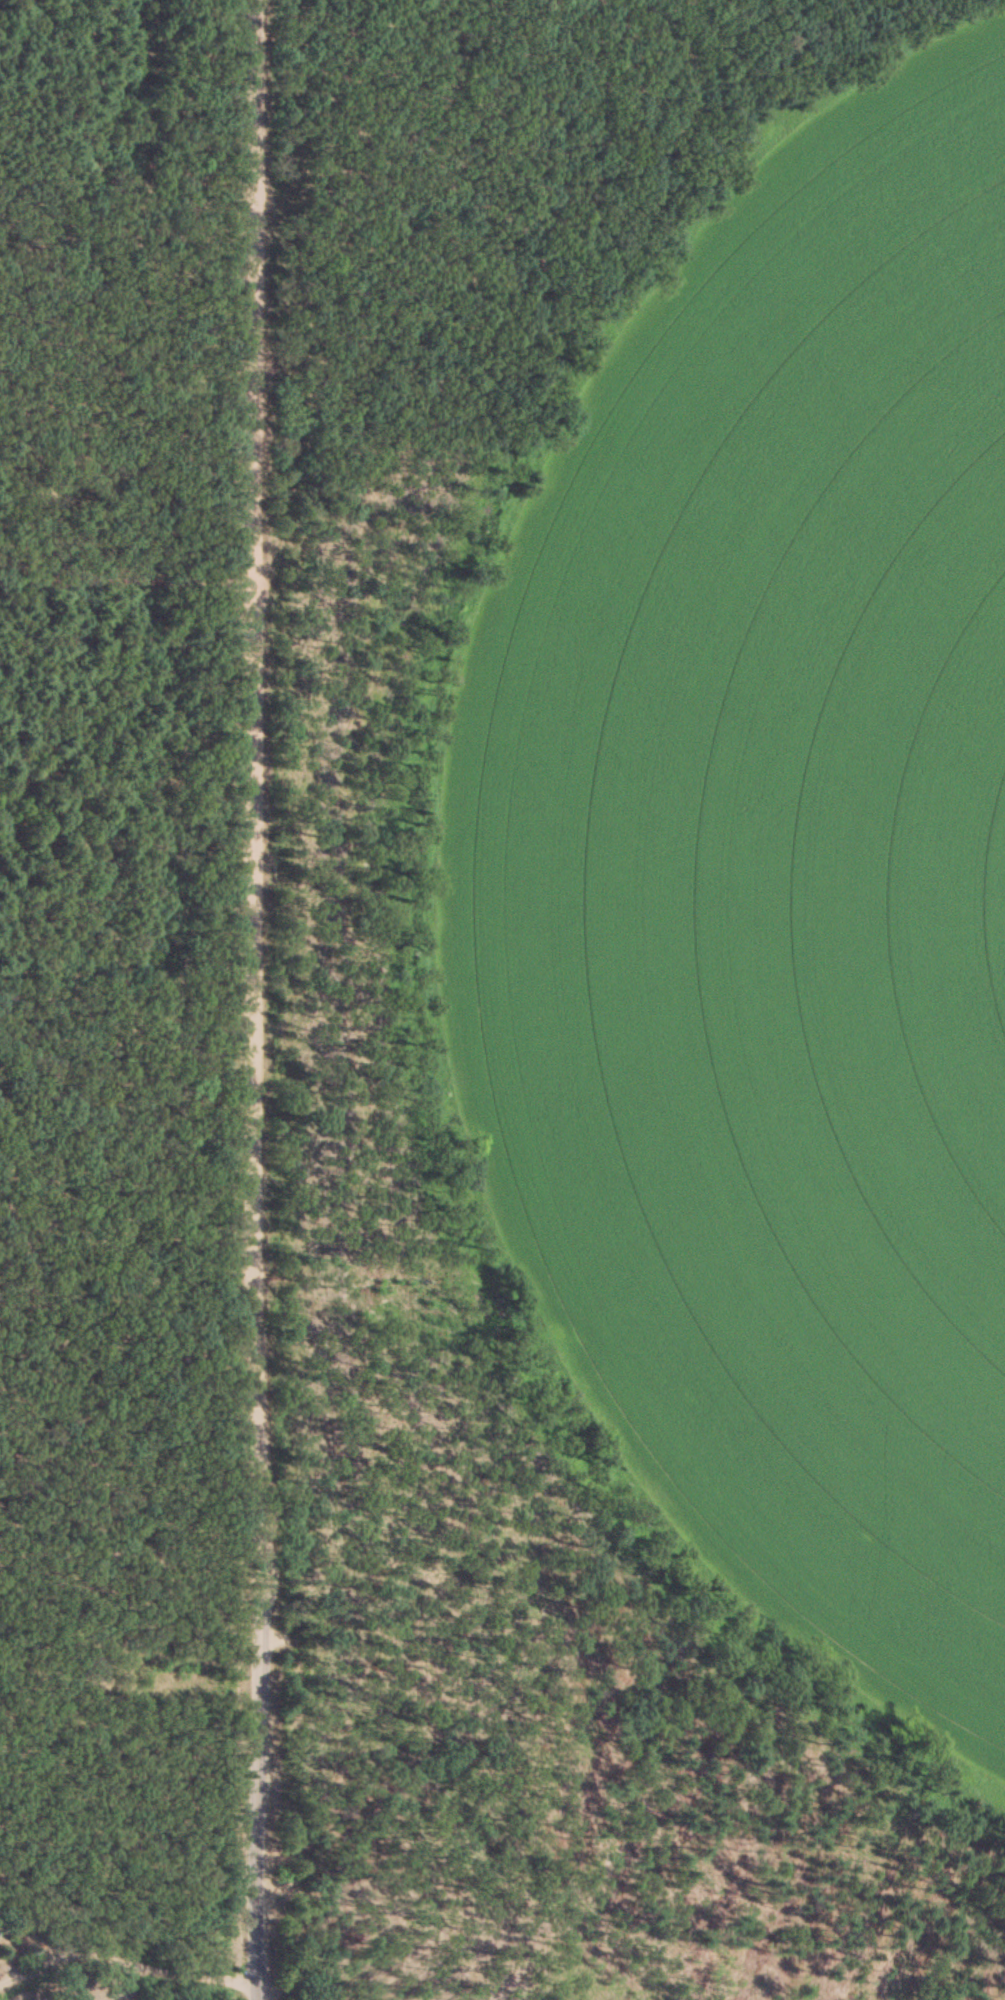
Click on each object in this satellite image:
road: (250, 1000)
road: (124, 1955)

